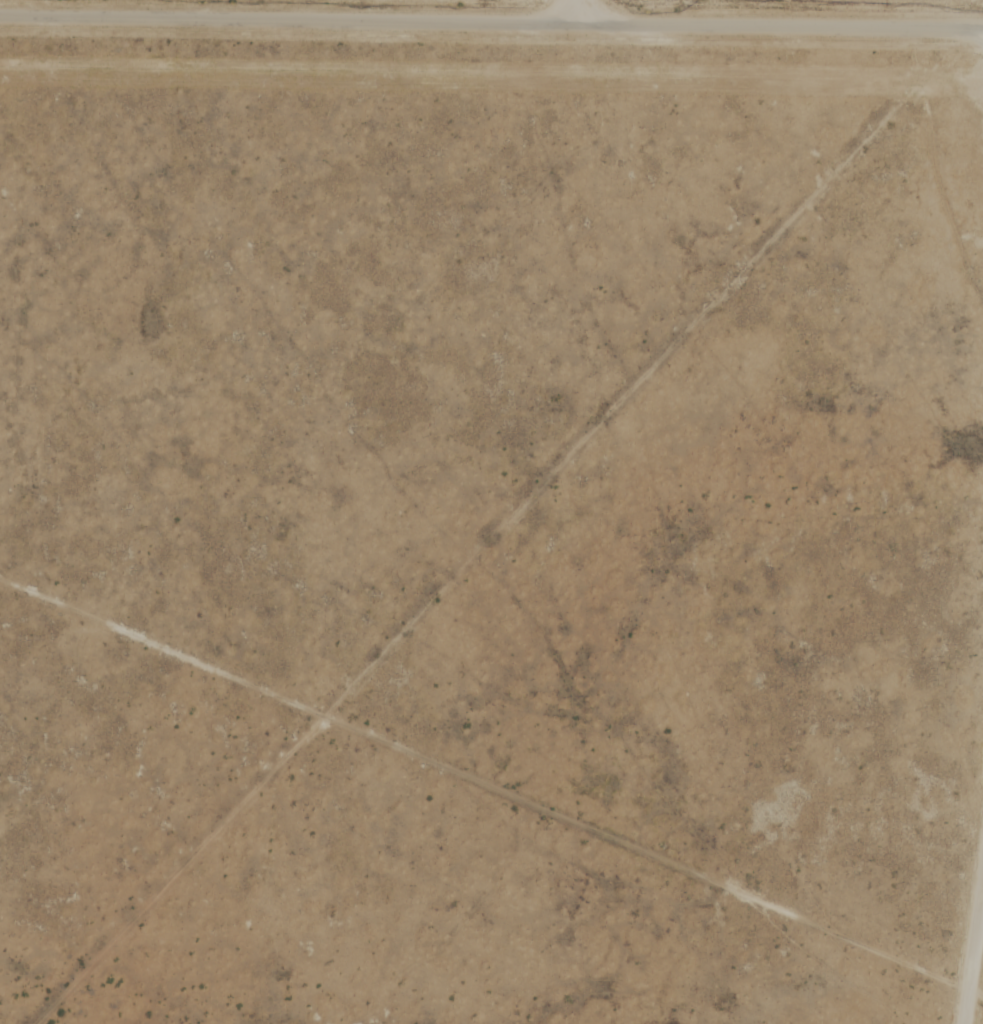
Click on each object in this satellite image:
road: (576, 14)
road: (491, 27)

